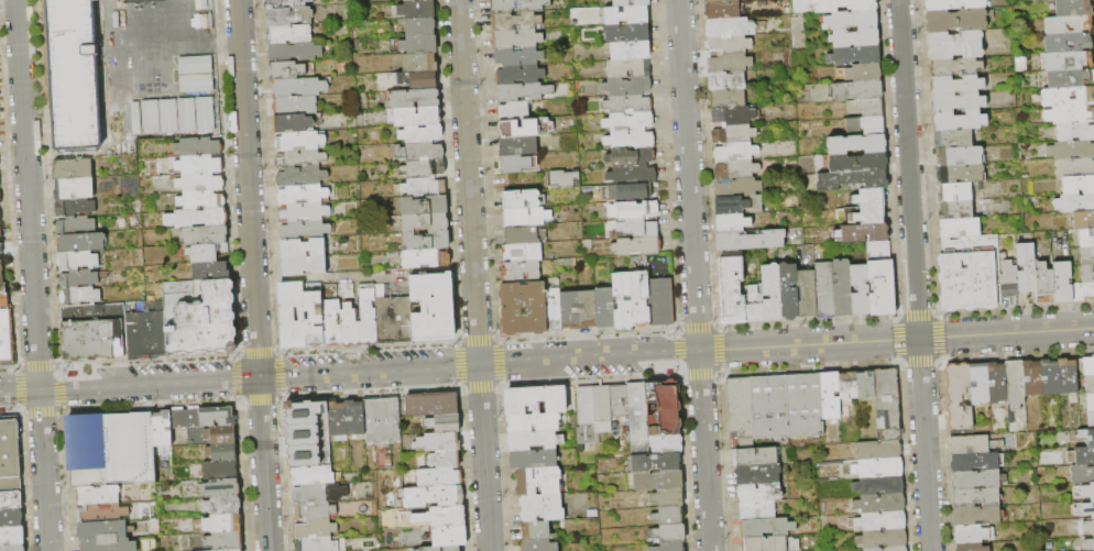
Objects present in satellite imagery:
building: (414, 0)
building: (718, 0)
building: (1039, 0)
building: (285, 3)
building: (631, 3)
building: (955, 4)
building: (518, 5)
building: (844, 5)
building: (1073, 8)
building: (723, 9)
building: (417, 10)
building: (627, 15)
building: (289, 16)
building: (851, 20)
building: (959, 20)
building: (516, 21)
building: (1068, 25)
building: (419, 26)
building: (733, 26)
building: (627, 33)
building: (289, 34)
building: (855, 37)
building: (516, 38)
building: (1068, 43)
building: (729, 44)
building: (420, 45)
building: (955, 45)
building: (630, 51)
building: (294, 52)
building: (518, 56)
building: (855, 56)
building: (1069, 60)
building: (419, 63)
building: (730, 63)
building: (193, 64)
building: (955, 67)
building: (628, 69)
building: (288, 70)
building: (864, 73)
building: (521, 74)
building: (74, 76)
building: (1070, 78)
building: (418, 79)
building: (727, 80)
building: (194, 81)
building: (626, 85)
building: (956, 86)
building: (299, 87)
building: (858, 90)
building: (523, 91)
building: (1068, 97)
building: (415, 99)
building: (729, 99)
building: (627, 102)
building: (958, 103)
building: (295, 106)
building: (866, 108)
building: (514, 111)
building: (194, 113)
building: (166, 114)
building: (1070, 114)
building: (734, 115)
building: (415, 117)
building: (628, 120)
building: (959, 121)
building: (141, 123)
building: (293, 123)
building: (866, 125)
building: (518, 129)
building: (1075, 132)
building: (423, 134)
building: (734, 134)
building: (630, 139)
building: (952, 139)
building: (299, 142)
building: (857, 144)
building: (518, 146)
building: (198, 147)
building: (1071, 150)
building: (420, 152)
building: (736, 152)
building: (960, 156)
building: (631, 157)
building: (302, 159)
building: (858, 162)
building: (515, 164)
building: (199, 165)
building: (424, 168)
road: (908, 168)
building: (1074, 168)
building: (74, 169)
building: (736, 169)
building: (961, 174)
building: (633, 175)
building: (302, 177)
building: (562, 179)
building: (852, 181)
building: (199, 183)
building: (425, 186)
building: (1077, 186)
building: (737, 187)
building: (74, 189)
building: (633, 191)
building: (955, 192)
building: (303, 195)
building: (872, 198)
building: (0, 199)
building: (522, 199)
building: (201, 200)
building: (1074, 203)
building: (424, 206)
building: (739, 206)
building: (75, 208)
building: (634, 210)
building: (956, 210)
building: (305, 212)
building: (865, 214)
building: (526, 217)
building: (0, 218)
building: (197, 218)
building: (1083, 221)
building: (426, 222)
building: (732, 223)
building: (75, 225)
building: (961, 228)
building: (639, 229)
building: (306, 230)
building: (0, 233)
building: (863, 233)
building: (523, 235)
building: (204, 236)
building: (1086, 239)
building: (426, 240)
building: (751, 240)
building: (81, 242)
building: (637, 246)
building: (303, 249)
building: (0, 250)
building: (879, 251)
building: (206, 253)
building: (523, 253)
building: (1087, 255)
building: (425, 258)
building: (78, 261)
building: (305, 265)
building: (1, 267)
building: (1027, 267)
building: (211, 272)
building: (521, 272)
building: (970, 274)
building: (1087, 274)
road: (32, 275)
road: (253, 275)
road: (473, 275)
road: (694, 275)
building: (80, 278)
building: (1009, 280)
building: (1044, 280)
building: (1062, 282)
building: (2, 285)
building: (732, 287)
building: (842, 288)
building: (882, 288)
building: (861, 289)
building: (824, 290)
building: (789, 291)
building: (1083, 291)
building: (772, 293)
building: (808, 294)
building: (79, 296)
building: (641, 297)
building: (4, 301)
building: (623, 301)
building: (661, 302)
building: (754, 306)
building: (434, 307)
building: (604, 308)
building: (524, 309)
building: (578, 310)
building: (554, 311)
building: (293, 315)
building: (314, 315)
building: (369, 315)
building: (331, 317)
building: (393, 317)
building: (200, 318)
building: (350, 326)
building: (146, 331)
building: (94, 332)
road: (1006, 333)
building: (7, 339)
road: (478, 364)
building: (1088, 366)
building: (1050, 377)
building: (1068, 377)
building: (1032, 378)
building: (980, 384)
building: (997, 384)
building: (1090, 384)
building: (866, 385)
building: (1015, 385)
building: (849, 386)
road: (19, 389)
building: (831, 396)
building: (887, 397)
building: (960, 397)
building: (536, 400)
building: (620, 401)
building: (1091, 401)
building: (433, 405)
building: (806, 405)
building: (741, 406)
building: (770, 407)
building: (665, 408)
building: (637, 409)
building: (592, 410)
building: (217, 417)
building: (355, 418)
building: (186, 419)
building: (337, 419)
building: (382, 420)
building: (1091, 420)
building: (445, 423)
building: (534, 423)
building: (163, 429)
building: (889, 433)
building: (221, 434)
building: (1086, 437)
building: (535, 441)
building: (438, 442)
building: (656, 444)
road: (923, 444)
building: (974, 444)
building: (111, 449)
building: (878, 450)
building: (222, 452)
building: (10, 454)
building: (1081, 455)
building: (756, 458)
building: (446, 460)
building: (534, 460)
building: (656, 462)
building: (975, 463)
building: (878, 467)
building: (220, 470)
building: (1082, 474)
building: (758, 475)
building: (314, 476)
building: (439, 478)
building: (658, 480)
building: (978, 481)
building: (538, 482)
building: (879, 486)
building: (221, 488)
building: (1087, 492)
building: (319, 493)
building: (759, 493)
building: (98, 495)
building: (433, 497)
building: (668, 497)
building: (976, 497)
building: (11, 500)
building: (880, 504)
building: (223, 506)
building: (541, 508)
building: (1084, 509)
building: (315, 510)
building: (758, 510)
building: (102, 513)
building: (668, 516)
building: (977, 516)
building: (440, 517)
building: (11, 518)
building: (882, 521)
building: (215, 525)
building: (768, 527)
building: (1088, 527)
building: (316, 529)
building: (102, 530)
building: (537, 531)
building: (668, 533)
building: (973, 535)
building: (12, 536)
building: (450, 536)
building: (883, 539)
building: (219, 541)
building: (772, 543)
building: (317, 544)
building: (1088, 544)
building: (110, 546)
building: (539, 546)
building: (668, 547)
building: (972, 547)
building: (12, 548)
building: (441, 549)
building: (887, 549)
building: (231, 550)

